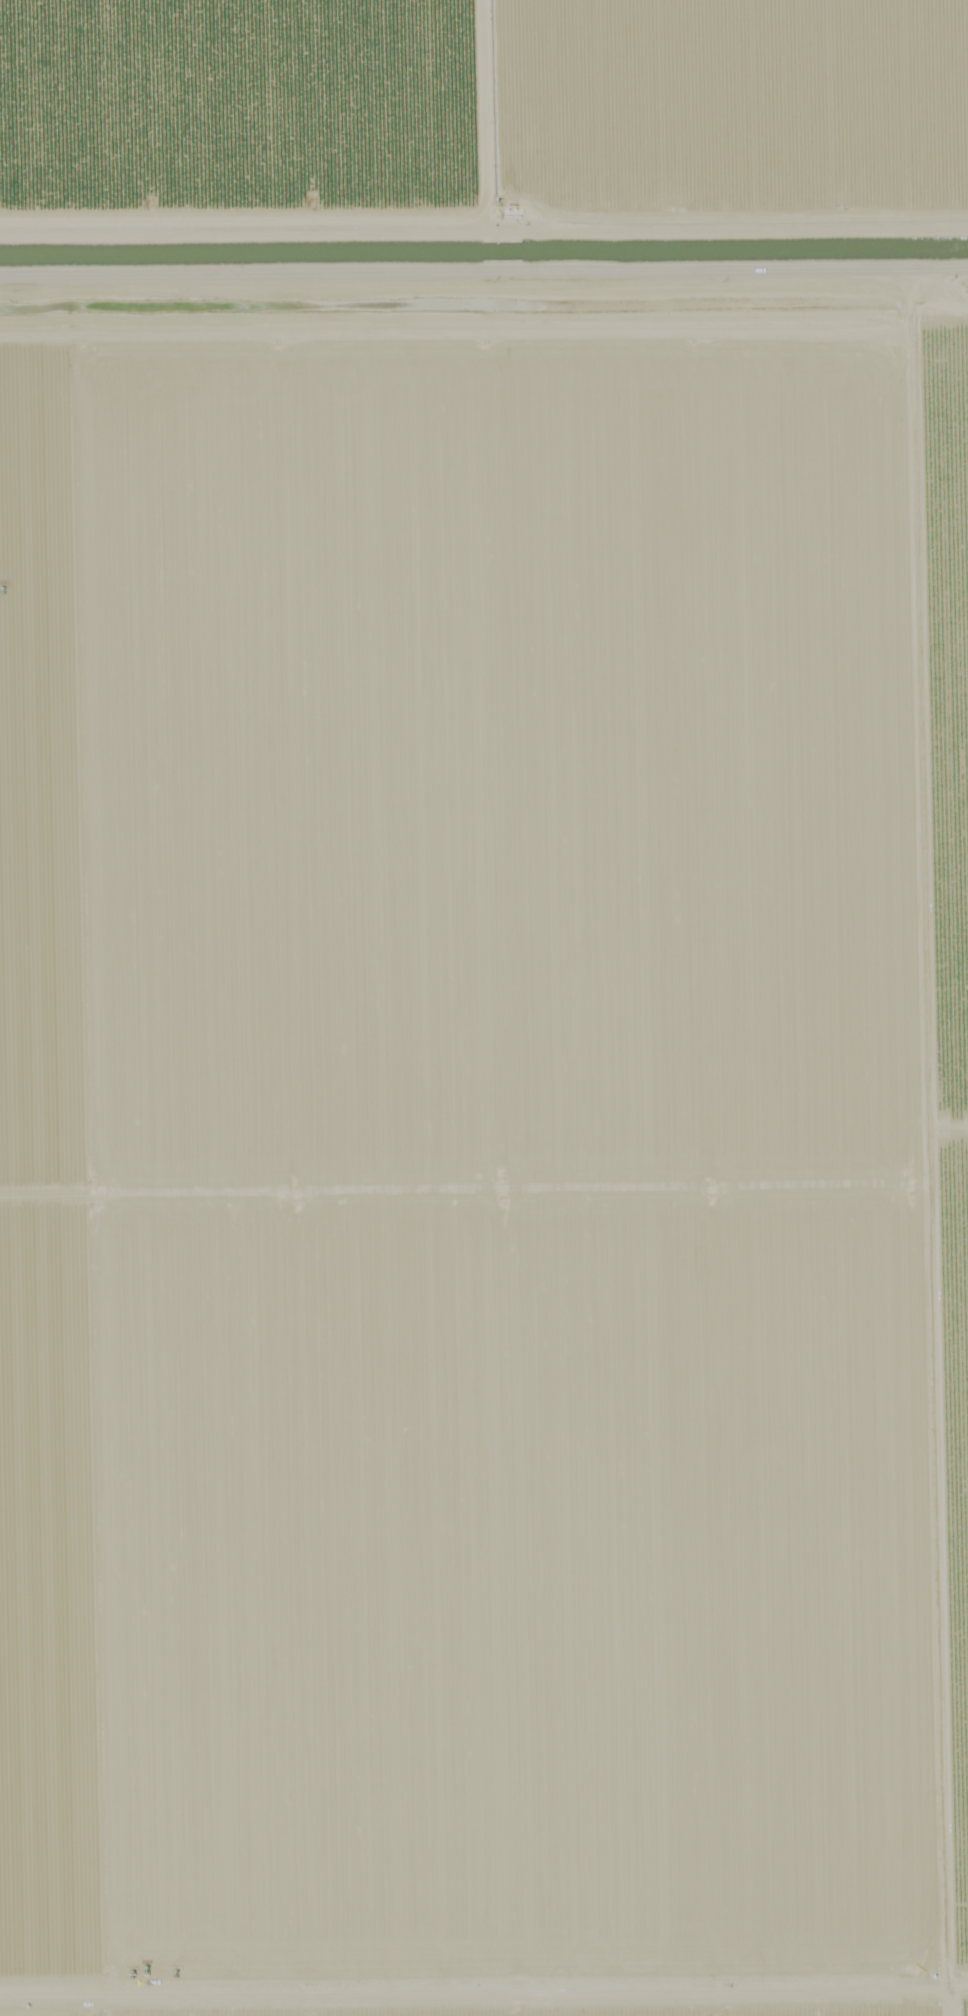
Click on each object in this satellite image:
crop: (484, 110)
road: (483, 299)
crop: (959, 789)
road: (953, 1155)
crop: (478, 1159)
crop: (572, 2008)

